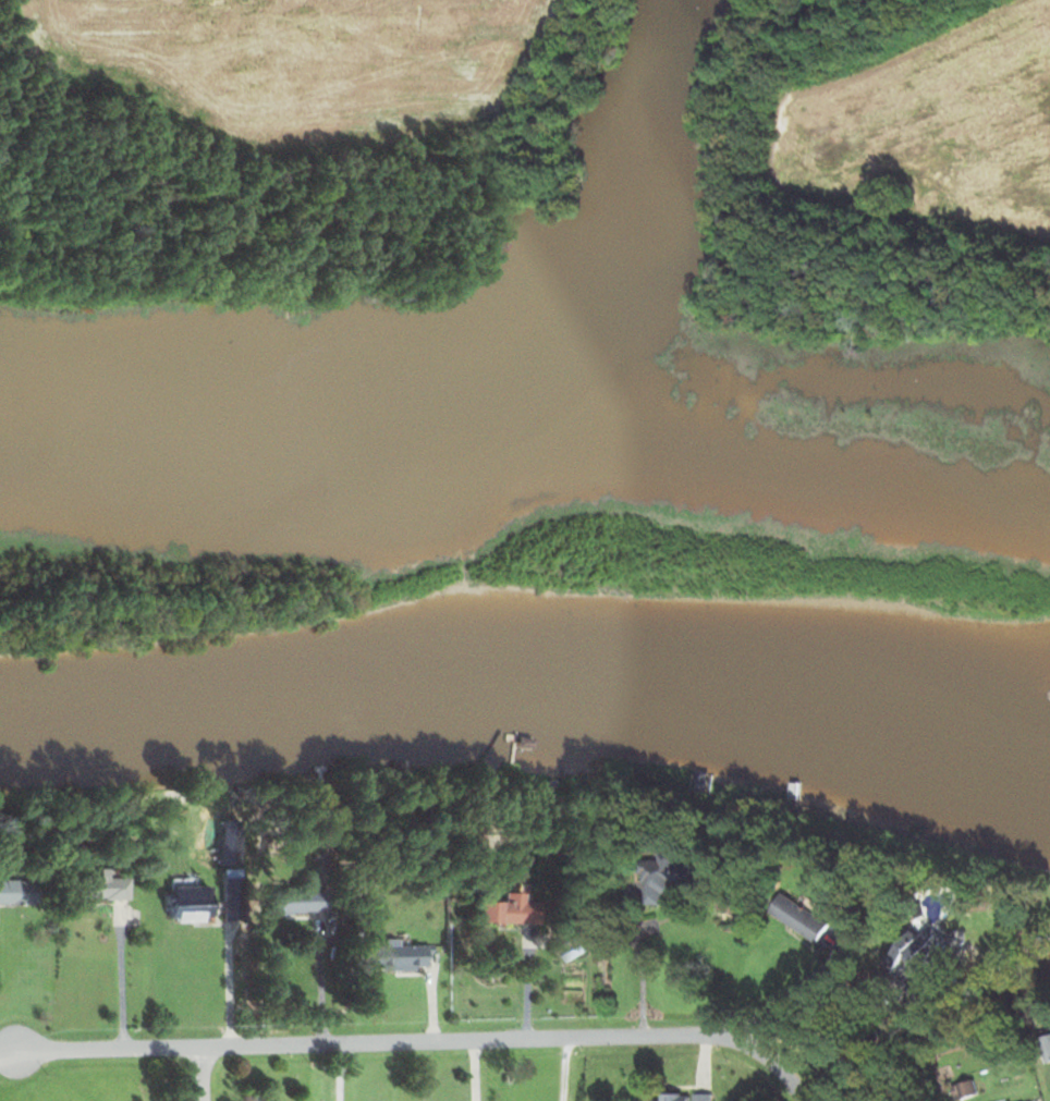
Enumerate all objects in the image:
river: (742, 717)
river: (213, 726)
building: (701, 784)
building: (668, 878)
building: (96, 889)
building: (15, 893)
building: (300, 903)
building: (188, 904)
building: (508, 912)
building: (797, 918)
building: (908, 953)
building: (395, 958)
road: (880, 1029)
road: (413, 1043)
building: (1045, 1049)
road: (203, 1075)
building: (670, 1098)

